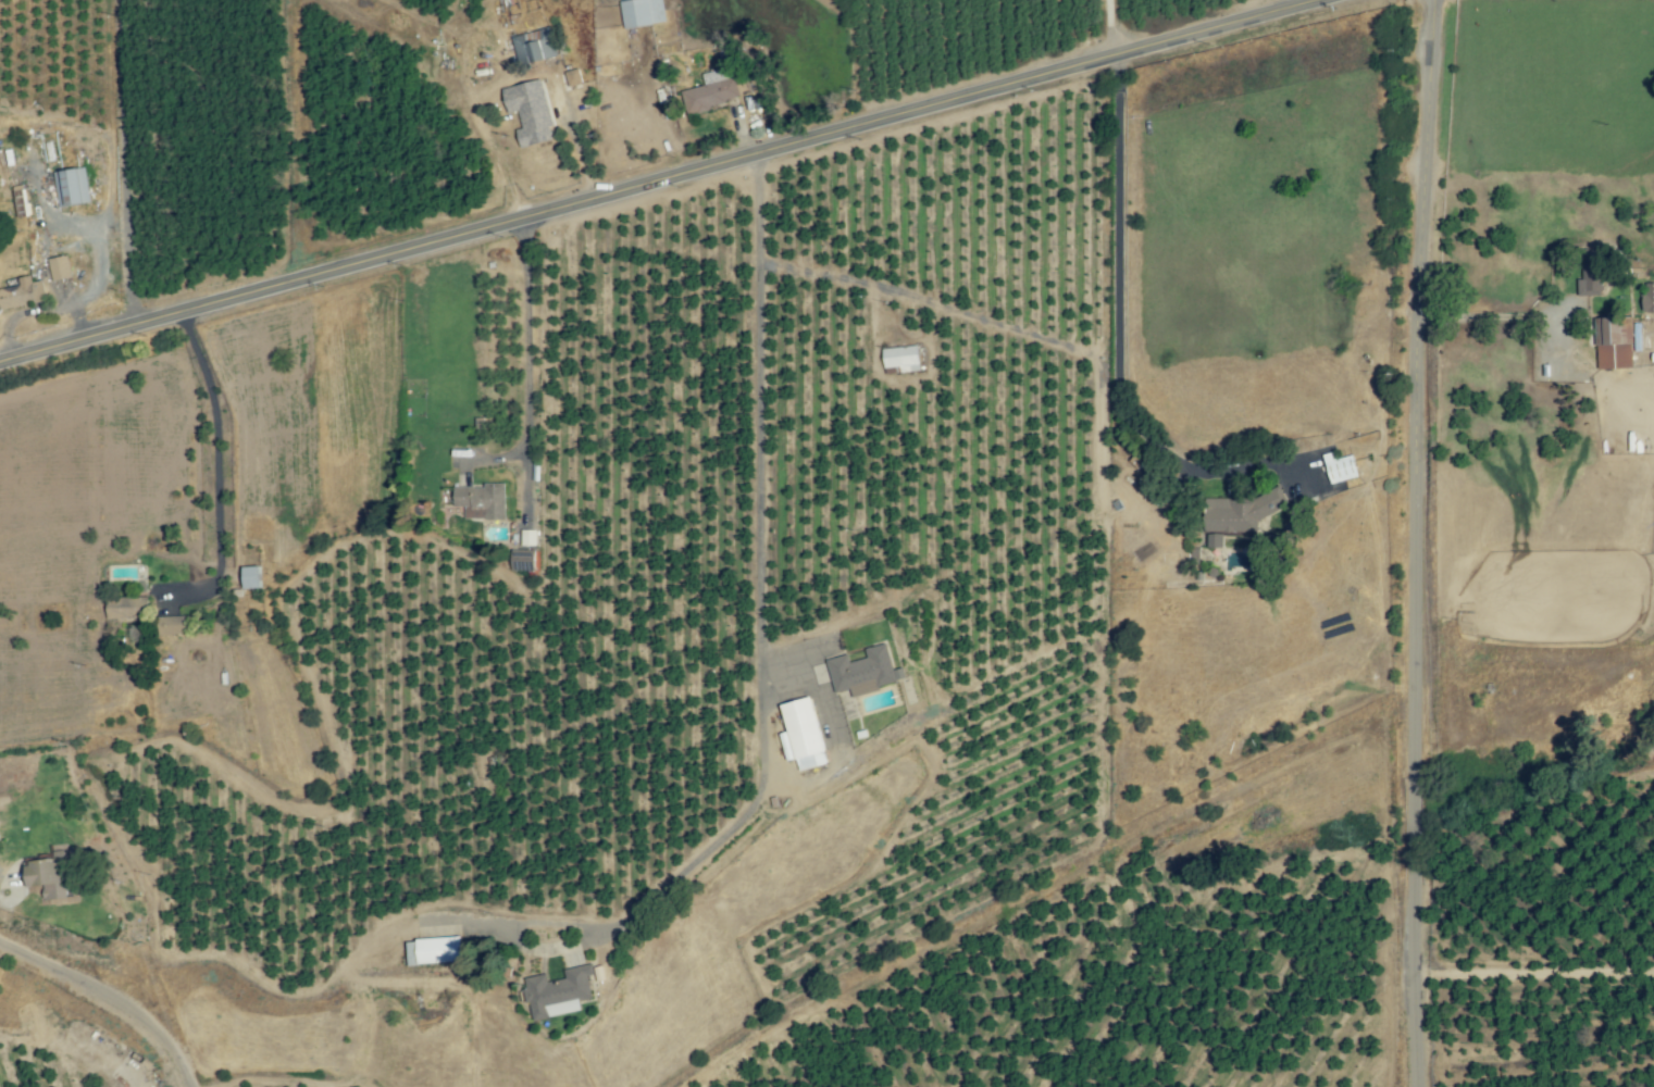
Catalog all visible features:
building: (642, 12)
road: (1111, 27)
building: (533, 47)
building: (573, 77)
building: (717, 90)
building: (530, 112)
road: (121, 166)
building: (3, 171)
road: (658, 185)
building: (71, 187)
building: (21, 201)
building: (59, 268)
building: (1590, 274)
building: (22, 292)
building: (1647, 297)
road: (1483, 317)
road: (1117, 330)
building: (1613, 343)
building: (901, 358)
road: (526, 365)
building: (1339, 467)
road: (214, 475)
building: (481, 501)
building: (1238, 514)
road: (1416, 542)
crop: (687, 562)
building: (250, 577)
building: (127, 608)
building: (173, 625)
road: (760, 625)
building: (862, 672)
building: (804, 734)
building: (48, 877)
building: (434, 950)
road: (359, 953)
building: (559, 992)
road: (108, 999)
crop: (29, 1073)
road: (276, 1080)
crop: (328, 1085)

